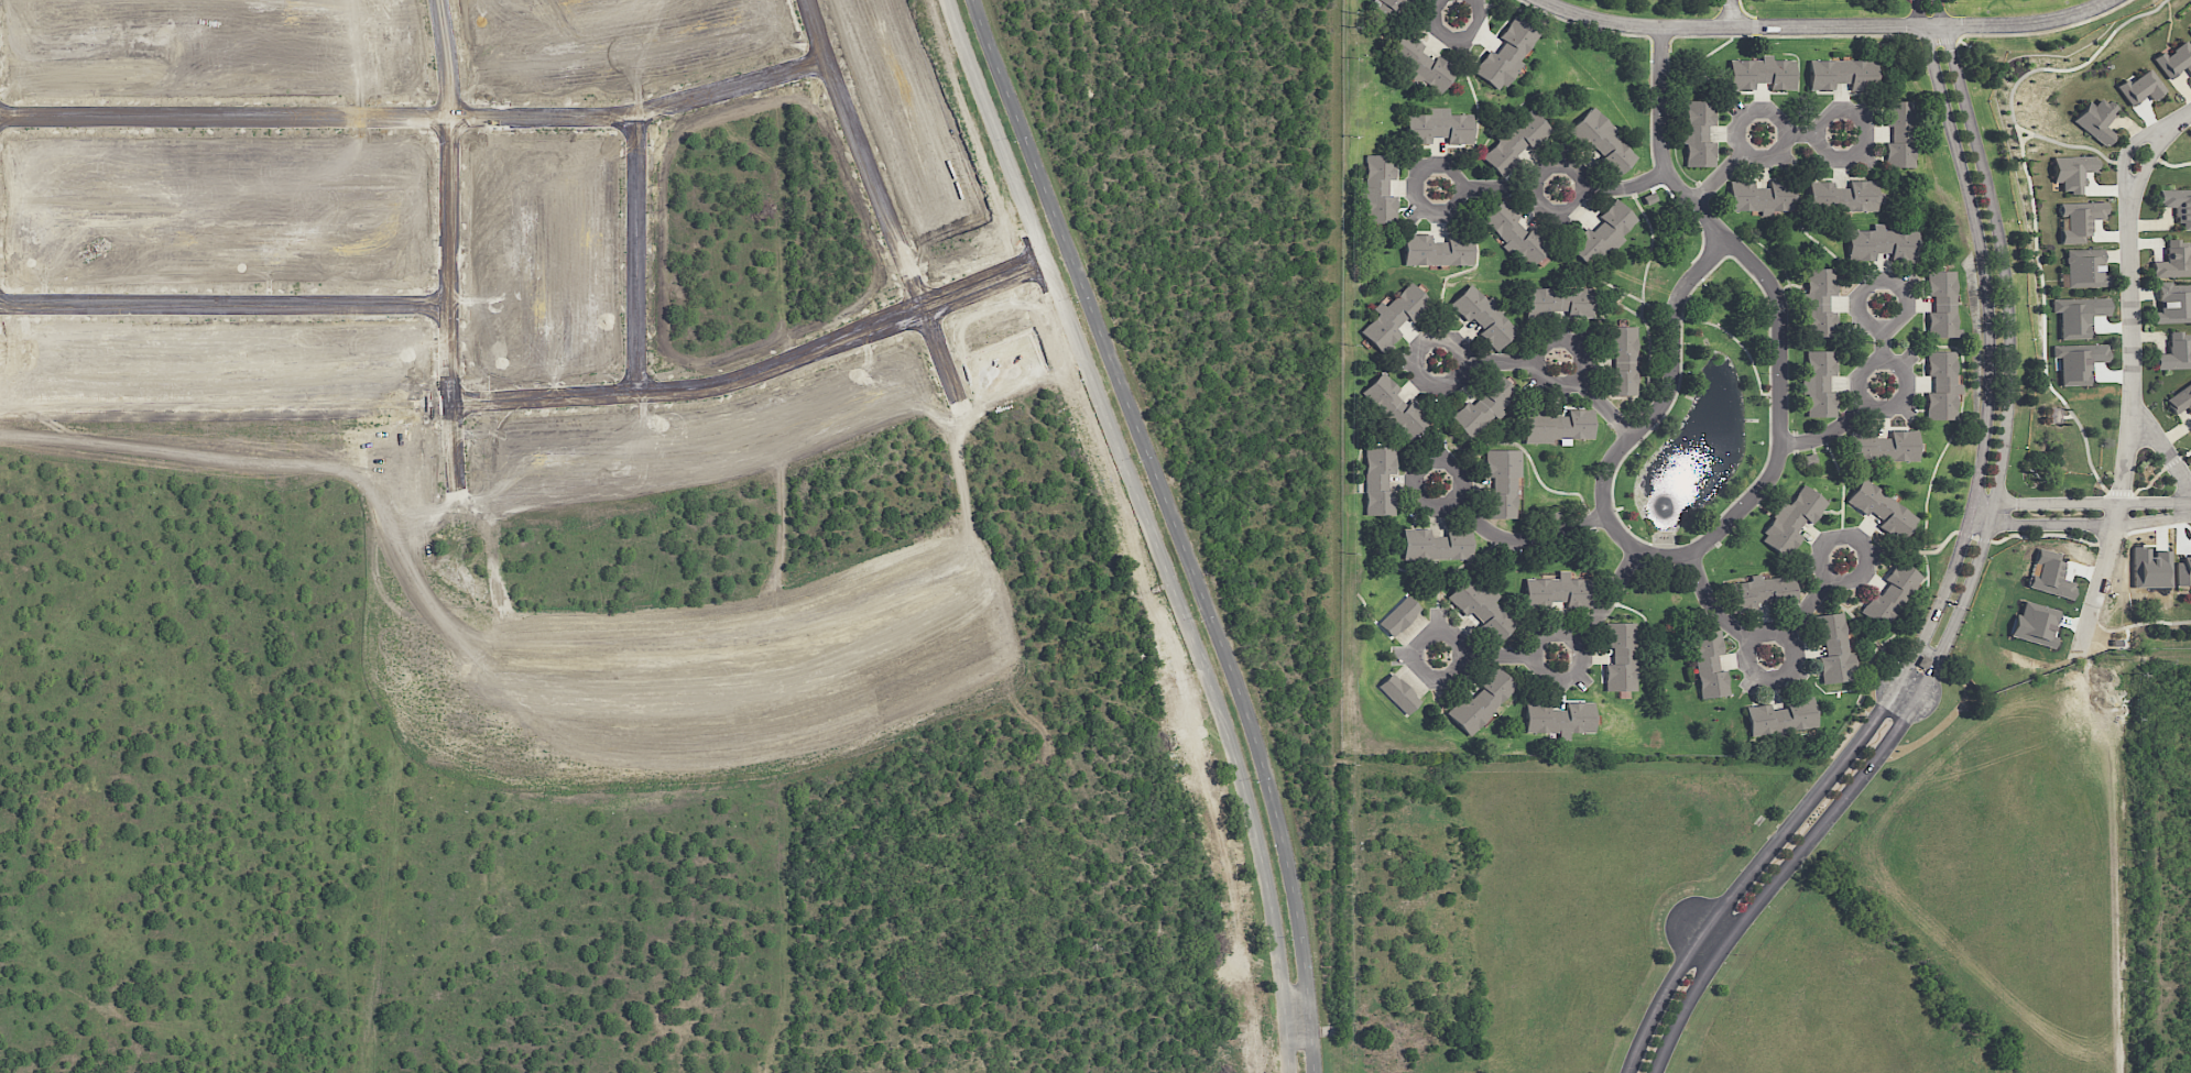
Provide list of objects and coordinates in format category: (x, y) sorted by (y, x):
building: (1388, 7)
road: (1729, 13)
road: (1941, 13)
road: (1920, 14)
road: (1827, 26)
road: (1456, 35)
building: (1506, 54)
building: (2174, 59)
building: (1422, 64)
building: (1762, 73)
building: (1843, 74)
building: (2139, 87)
road: (416, 114)
road: (1775, 118)
building: (2096, 118)
road: (2178, 121)
building: (1439, 127)
building: (1699, 132)
road: (1864, 132)
road: (1799, 133)
building: (1901, 134)
building: (1516, 141)
building: (1603, 141)
road: (449, 152)
road: (2126, 152)
road: (2147, 164)
building: (2072, 171)
road: (1719, 176)
road: (1626, 185)
road: (1582, 186)
road: (1460, 187)
road: (1498, 188)
building: (1380, 191)
building: (1844, 195)
building: (1762, 197)
building: (2177, 205)
building: (2080, 218)
building: (1515, 233)
building: (1602, 234)
building: (1883, 243)
building: (1437, 250)
road: (636, 253)
building: (2173, 259)
building: (2084, 266)
road: (1881, 282)
building: (1819, 300)
building: (1561, 302)
building: (2173, 303)
road: (224, 304)
building: (1942, 304)
building: (2075, 315)
building: (1483, 316)
building: (1394, 317)
road: (1884, 343)
road: (1990, 344)
road: (1546, 348)
road: (2012, 350)
building: (2177, 350)
road: (939, 351)
building: (1623, 359)
building: (2080, 360)
road: (1457, 361)
road: (1500, 361)
road: (2134, 361)
road: (1889, 363)
road: (757, 372)
building: (1819, 384)
building: (1942, 385)
building: (2180, 399)
building: (1395, 406)
road: (1604, 406)
building: (1482, 407)
building: (2053, 415)
building: (1557, 425)
road: (1828, 431)
building: (1886, 446)
road: (2173, 460)
road: (1421, 468)
building: (1378, 480)
building: (1502, 481)
road: (1757, 492)
road: (2082, 503)
building: (1882, 508)
building: (1791, 521)
road: (2080, 523)
road: (1152, 527)
road: (1177, 527)
road: (1524, 540)
building: (1437, 545)
road: (1858, 545)
road: (2105, 565)
road: (459, 566)
road: (733, 567)
building: (2150, 568)
building: (2183, 572)
building: (2050, 574)
building: (1557, 591)
building: (1761, 591)
road: (1612, 592)
building: (1890, 594)
building: (1480, 605)
road: (1713, 606)
road: (1806, 606)
building: (1399, 616)
building: (2035, 624)
road: (1582, 637)
road: (1579, 642)
road: (1756, 646)
building: (1835, 650)
road: (1459, 656)
road: (1498, 656)
building: (1621, 656)
building: (1709, 665)
road: (1905, 668)
road: (1925, 682)
road: (1907, 689)
building: (1398, 693)
building: (1481, 700)
building: (1559, 718)
building: (1781, 718)
road: (861, 786)
road: (797, 848)
road: (1751, 871)
road: (1776, 878)
road: (1703, 935)
road: (1299, 1015)

